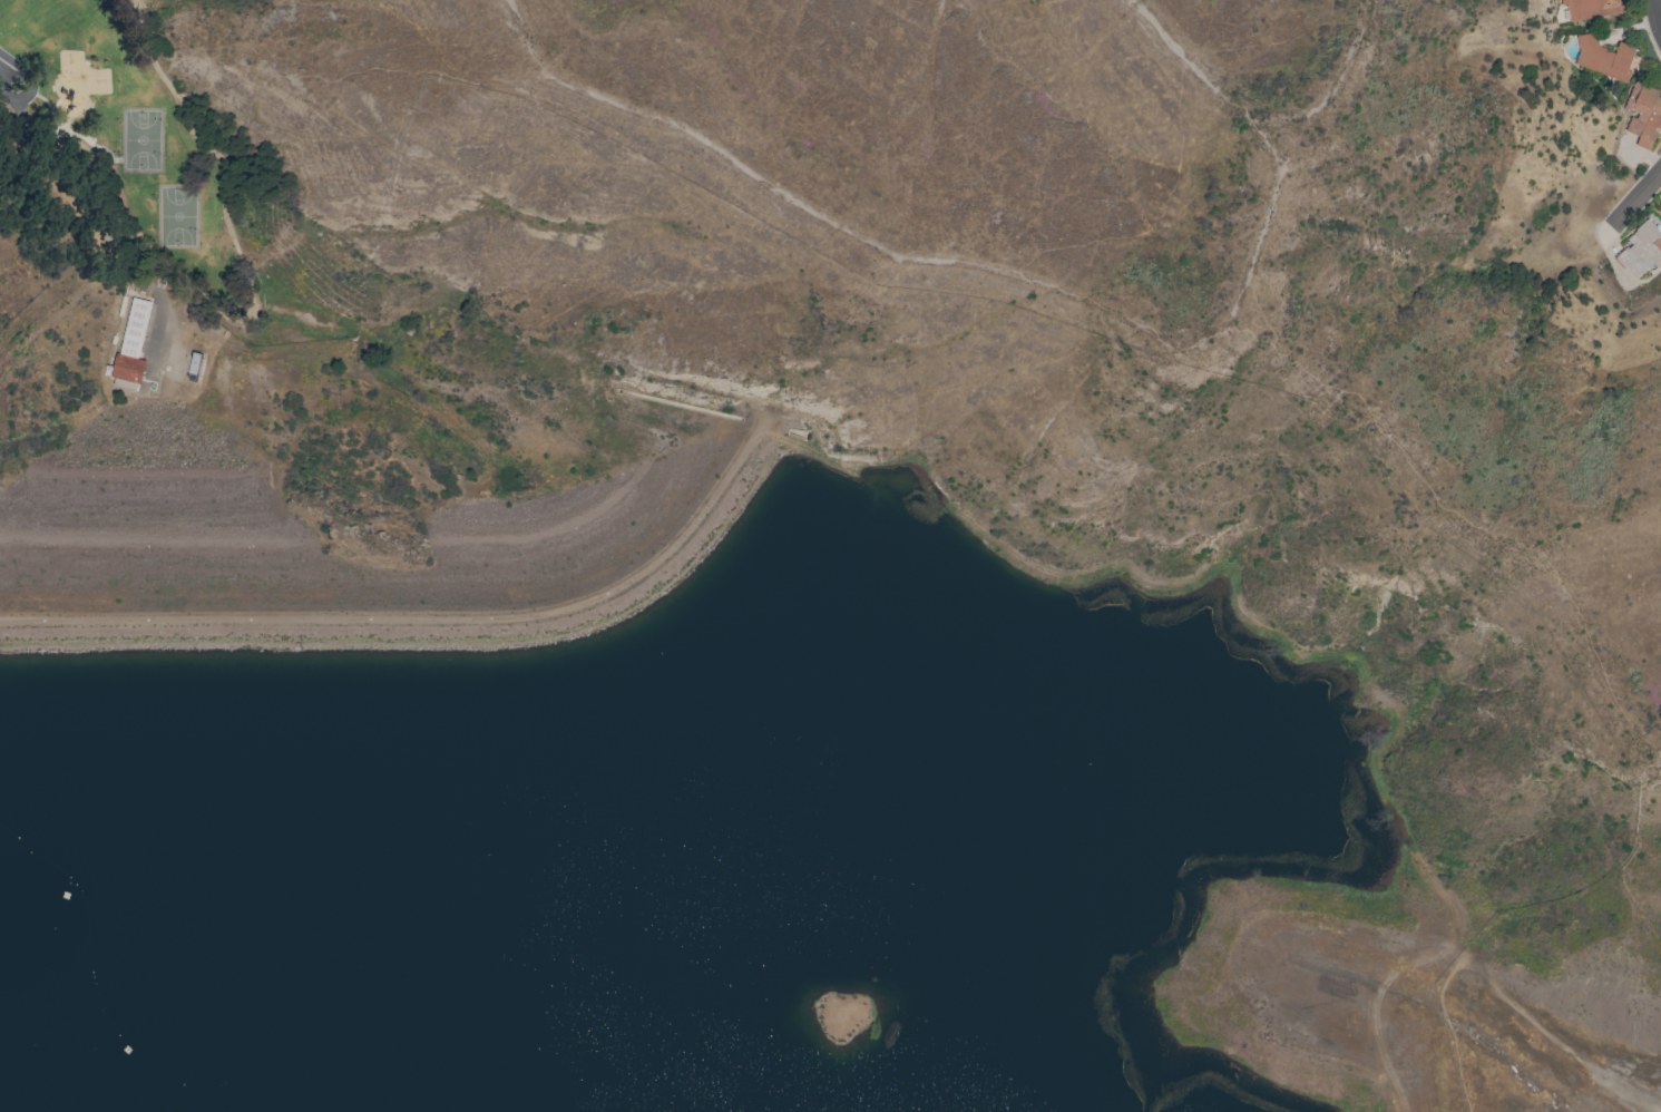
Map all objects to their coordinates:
building: (1592, 8)
road: (1657, 11)
building: (1605, 58)
road: (4, 66)
road: (25, 72)
building: (1644, 114)
park: (116, 138)
park: (140, 138)
road: (1636, 195)
park: (175, 216)
building: (1642, 250)
building: (129, 349)
dam: (395, 503)
road: (418, 620)
road: (1286, 652)
road: (1496, 986)

